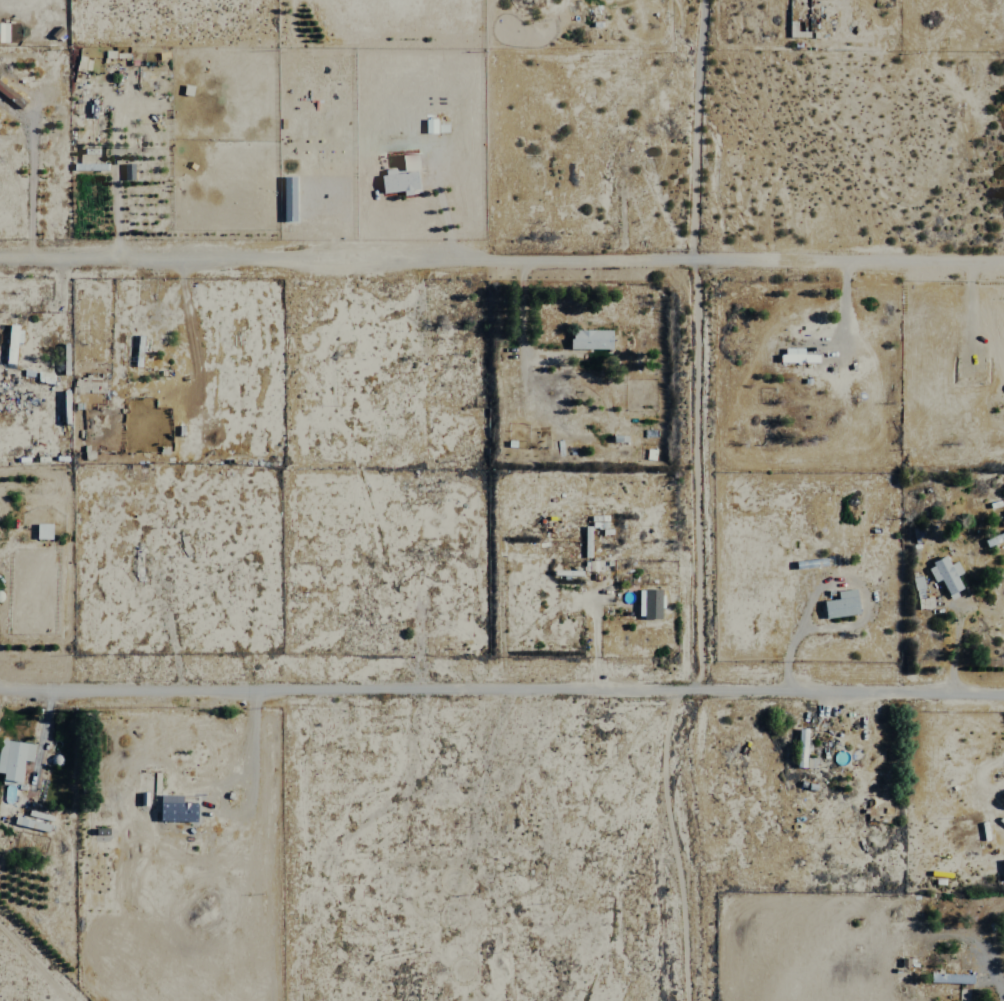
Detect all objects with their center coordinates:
road: (502, 259)
road: (699, 342)
road: (502, 685)
building: (16, 760)
road: (249, 785)
building: (180, 812)
building: (35, 821)
road: (698, 843)
road: (988, 977)

